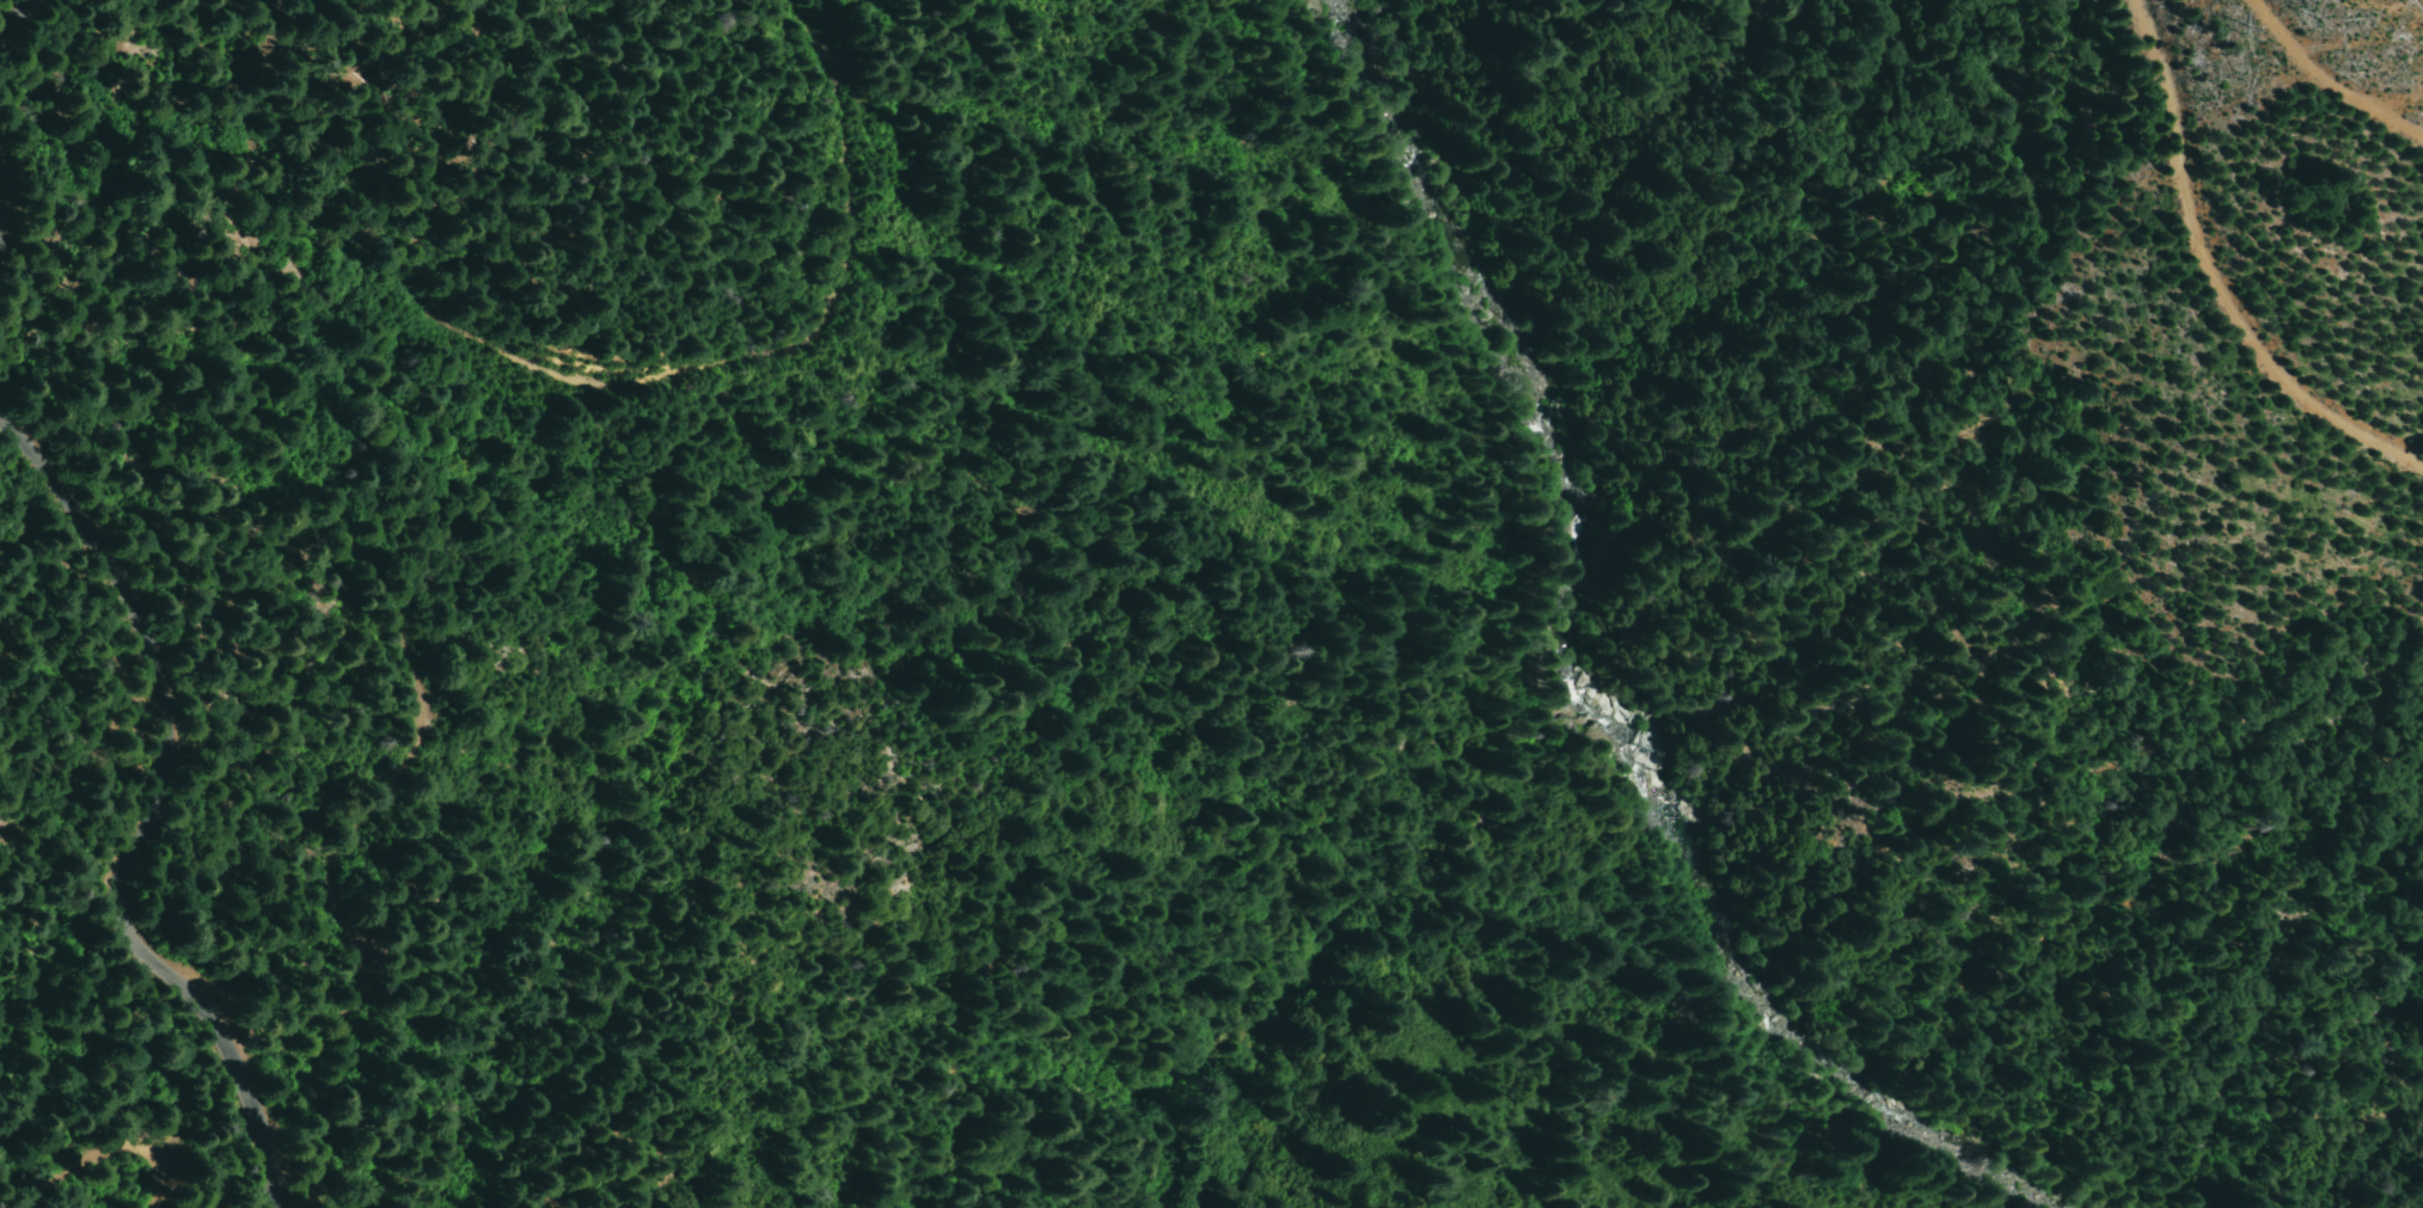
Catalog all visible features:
road: (17, 16)
river: (1521, 410)
road: (146, 824)
river: (1810, 1068)

